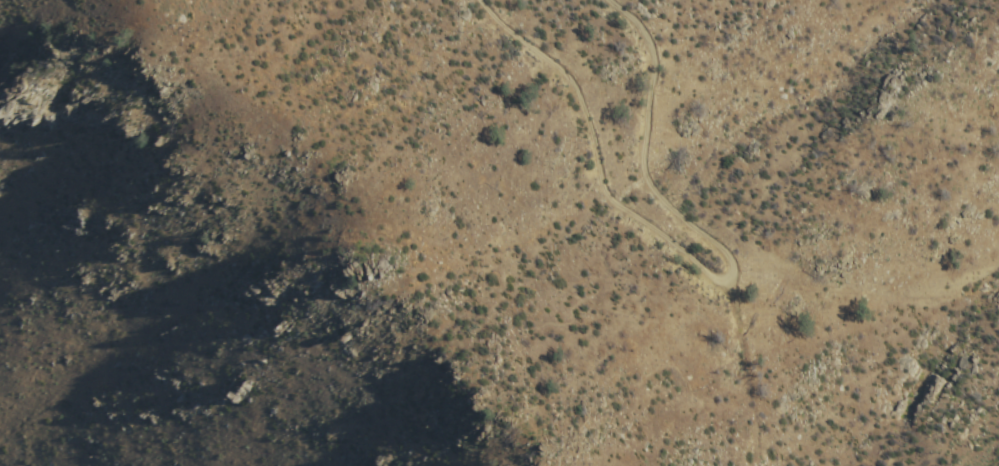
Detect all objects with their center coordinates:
road: (698, 265)

